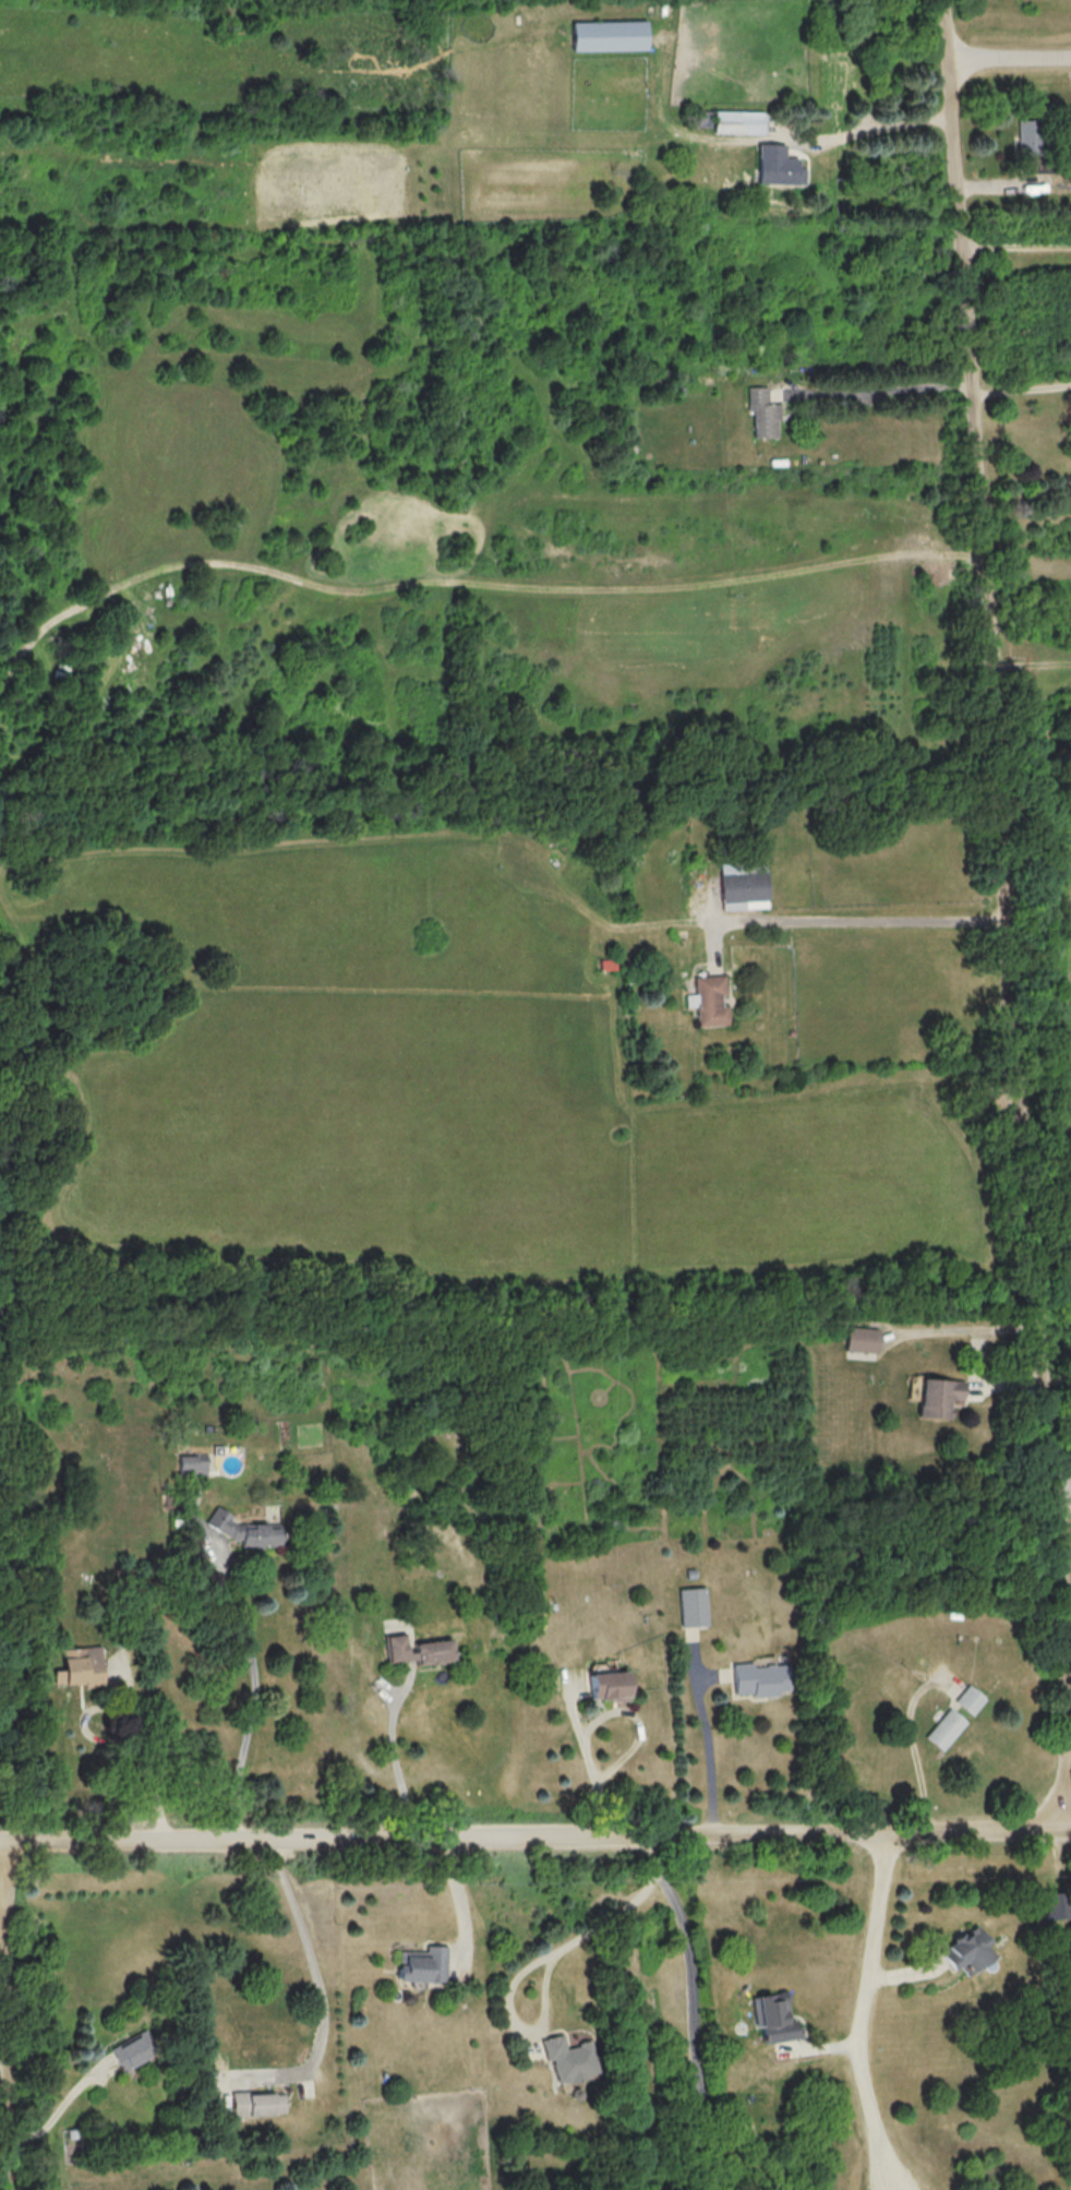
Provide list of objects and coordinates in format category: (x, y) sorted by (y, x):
building: (607, 35)
road: (1008, 61)
building: (737, 121)
road: (885, 128)
building: (1031, 142)
building: (777, 166)
road: (1020, 383)
road: (886, 386)
building: (762, 412)
building: (744, 885)
road: (1006, 912)
road: (867, 914)
building: (709, 1000)
building: (864, 1339)
building: (939, 1397)
building: (192, 1464)
road: (1061, 1495)
building: (244, 1530)
building: (694, 1606)
building: (419, 1649)
building: (81, 1666)
building: (760, 1678)
building: (609, 1685)
building: (970, 1699)
road: (255, 1700)
road: (638, 1721)
building: (946, 1728)
road: (147, 1749)
road: (914, 1749)
road: (710, 1750)
road: (396, 1757)
road: (535, 1839)
building: (1057, 1905)
building: (967, 1949)
building: (423, 1962)
road: (529, 1967)
road: (317, 1976)
road: (694, 2009)
road: (865, 2013)
road: (5, 2017)
building: (774, 2017)
building: (134, 2051)
building: (570, 2058)
building: (260, 2104)
road: (60, 2108)

